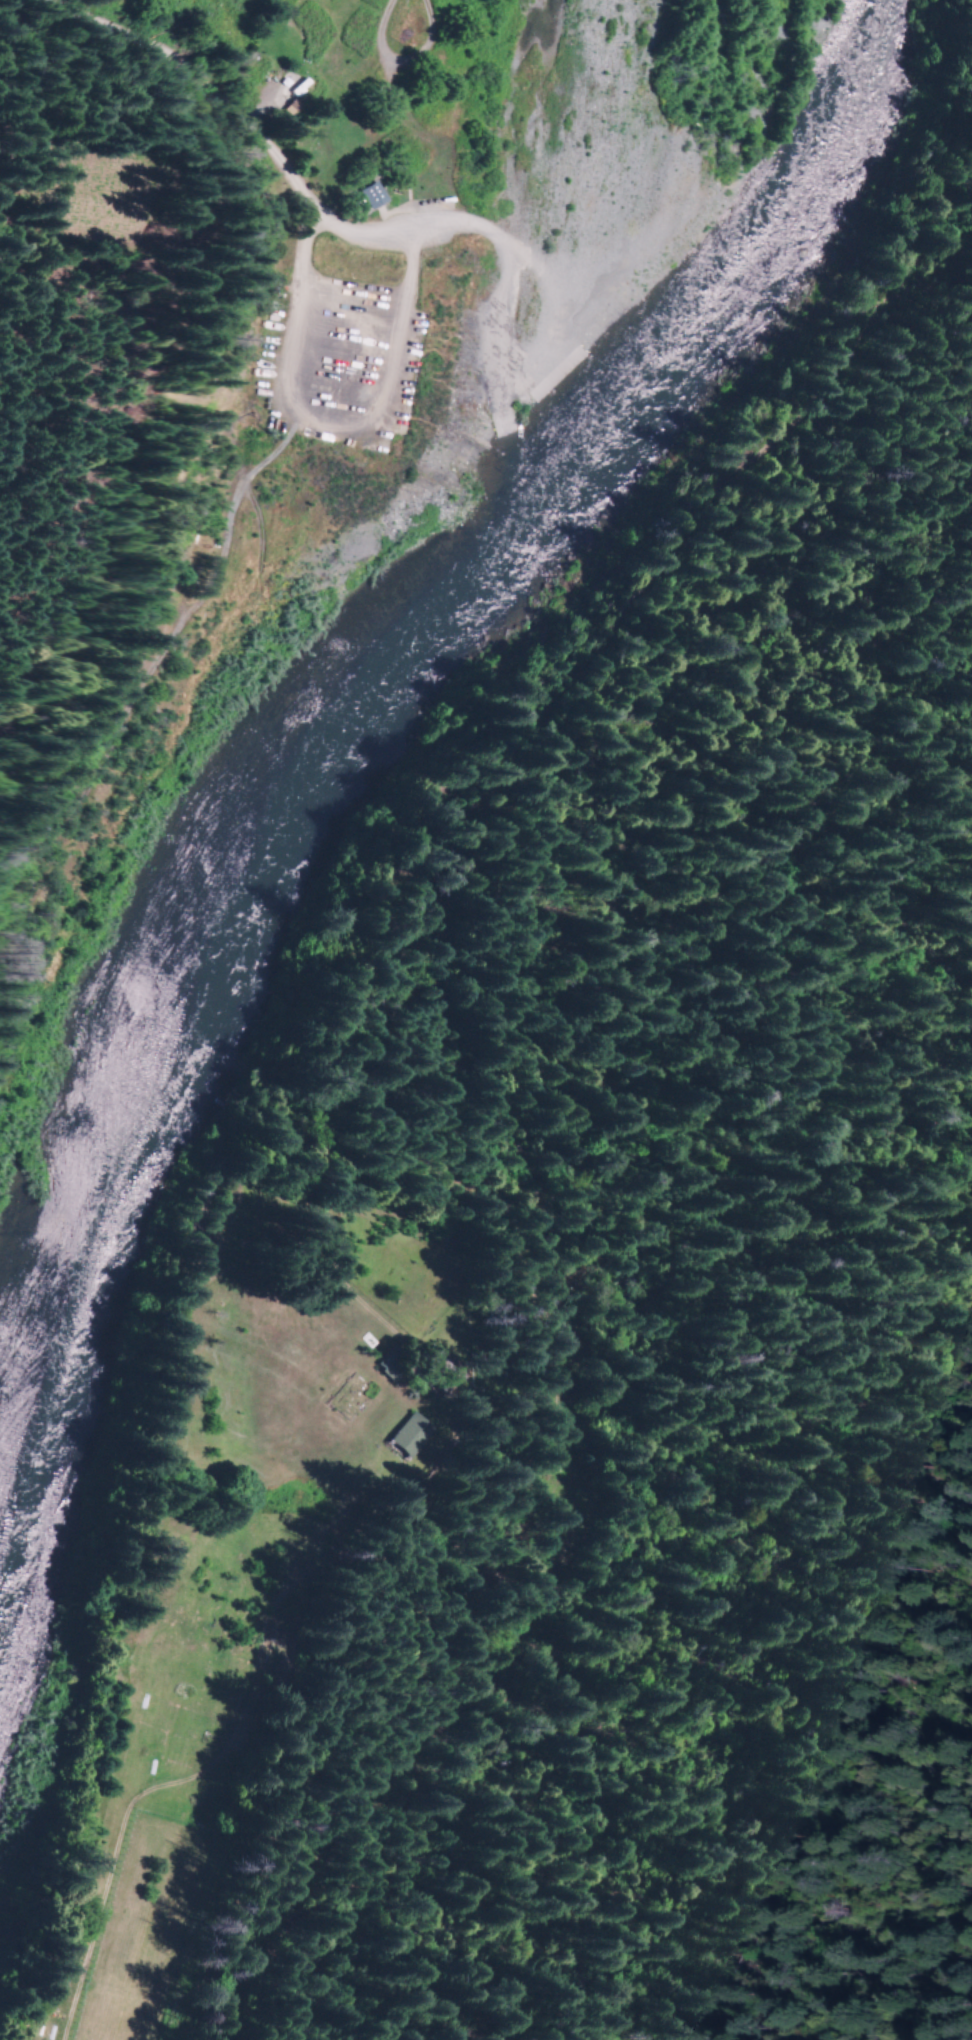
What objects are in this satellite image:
road: (401, 62)
building: (297, 88)
building: (287, 110)
road: (270, 165)
building: (364, 195)
road: (526, 351)
parking lot: (329, 363)
road: (544, 363)
road: (493, 389)
road: (327, 414)
road: (147, 671)
river: (367, 703)

